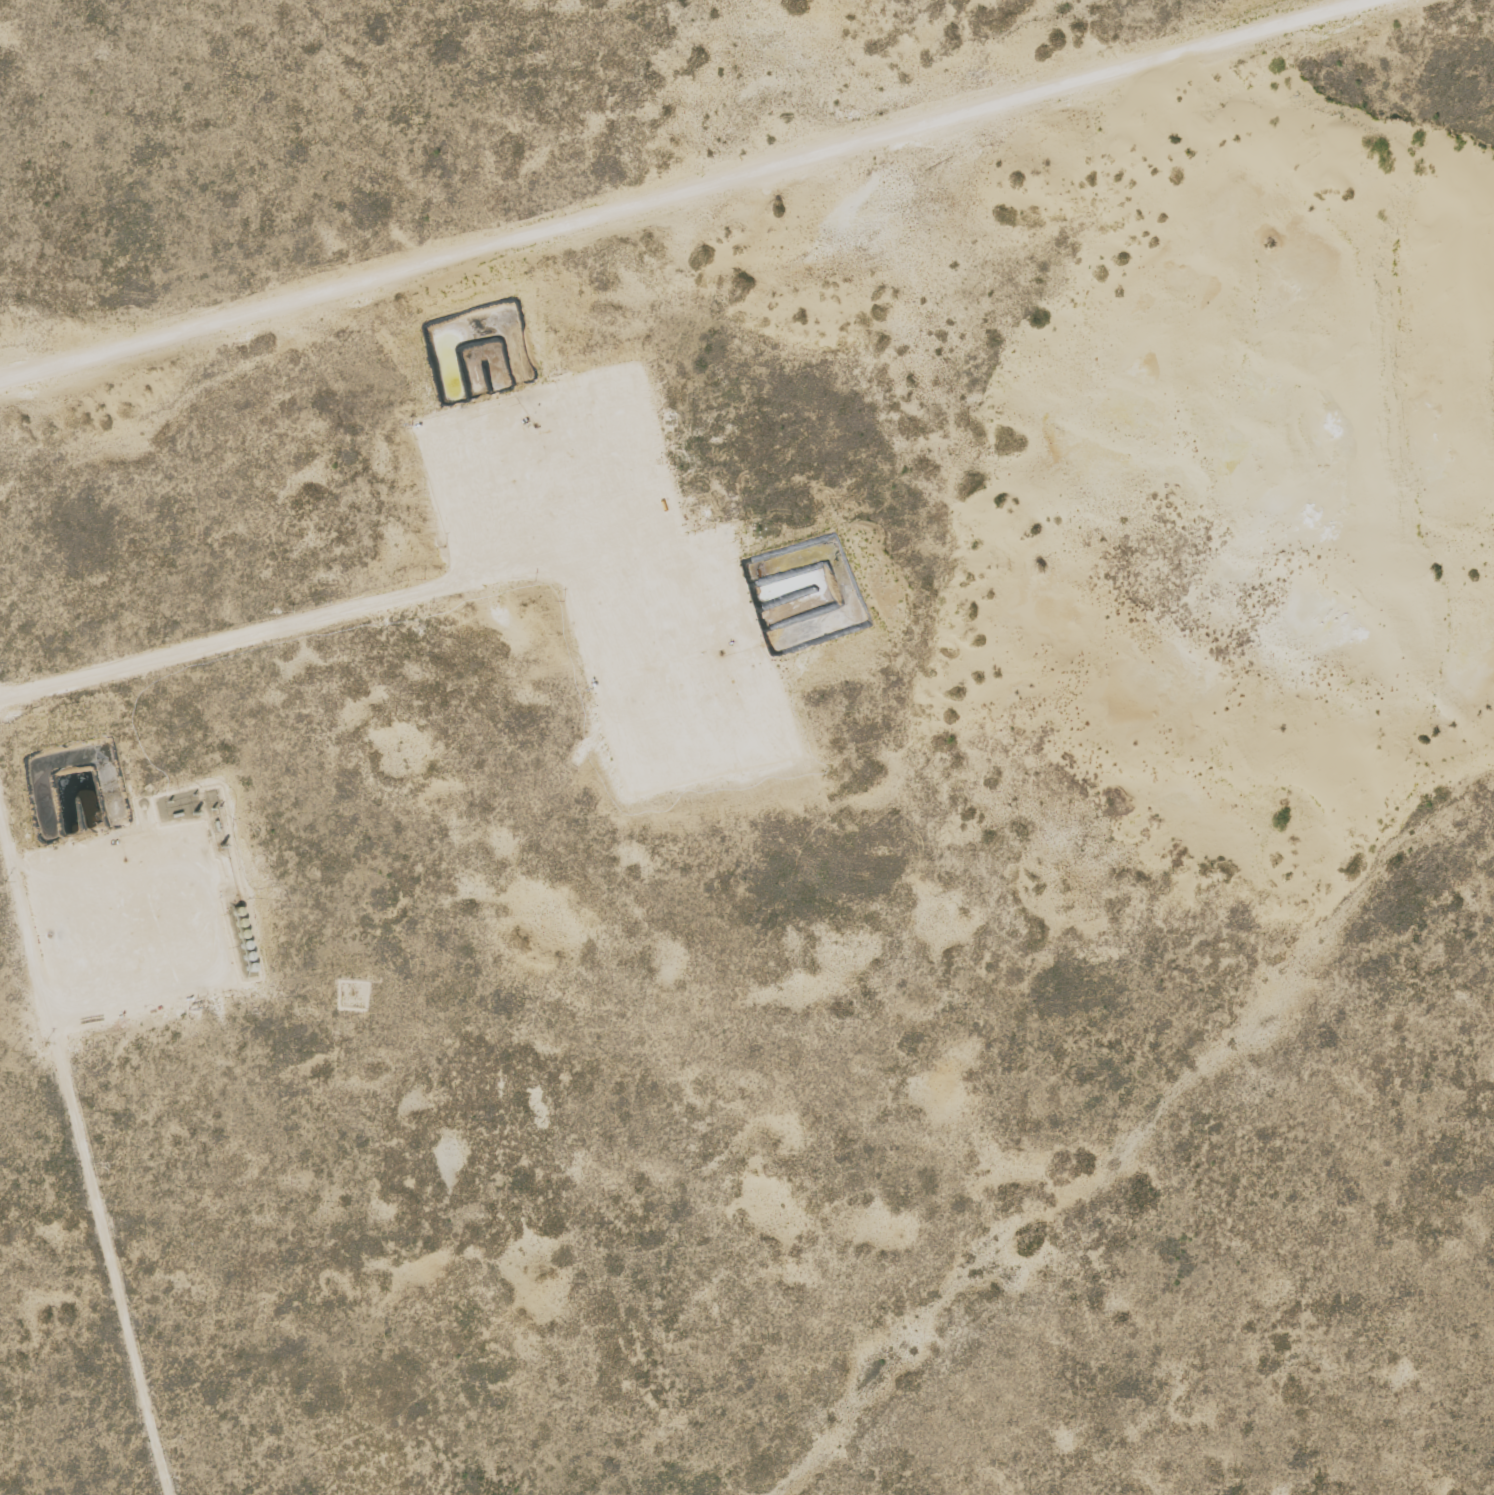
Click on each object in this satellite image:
road: (91, 1120)

